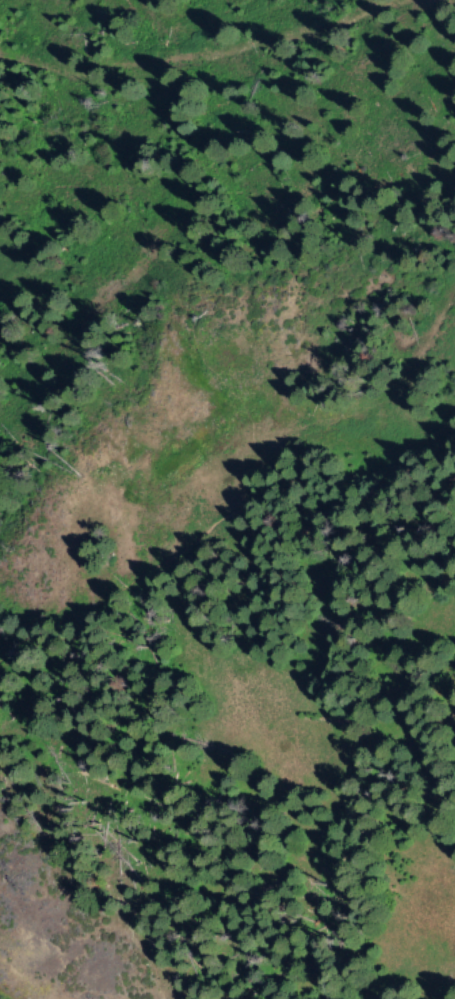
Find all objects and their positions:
road: (209, 523)

